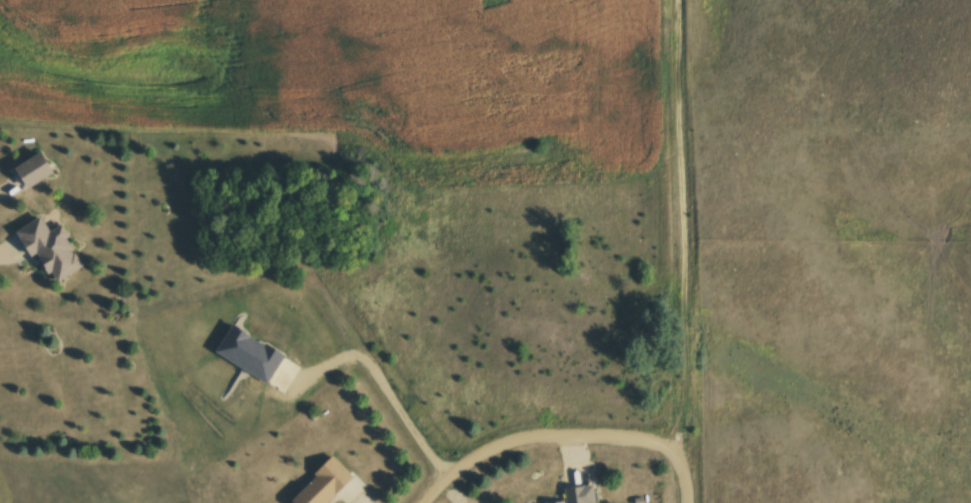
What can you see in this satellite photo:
building: (41, 169)
road: (684, 229)
building: (57, 249)
road: (396, 405)
road: (546, 438)
road: (686, 481)
building: (330, 483)
building: (586, 495)

